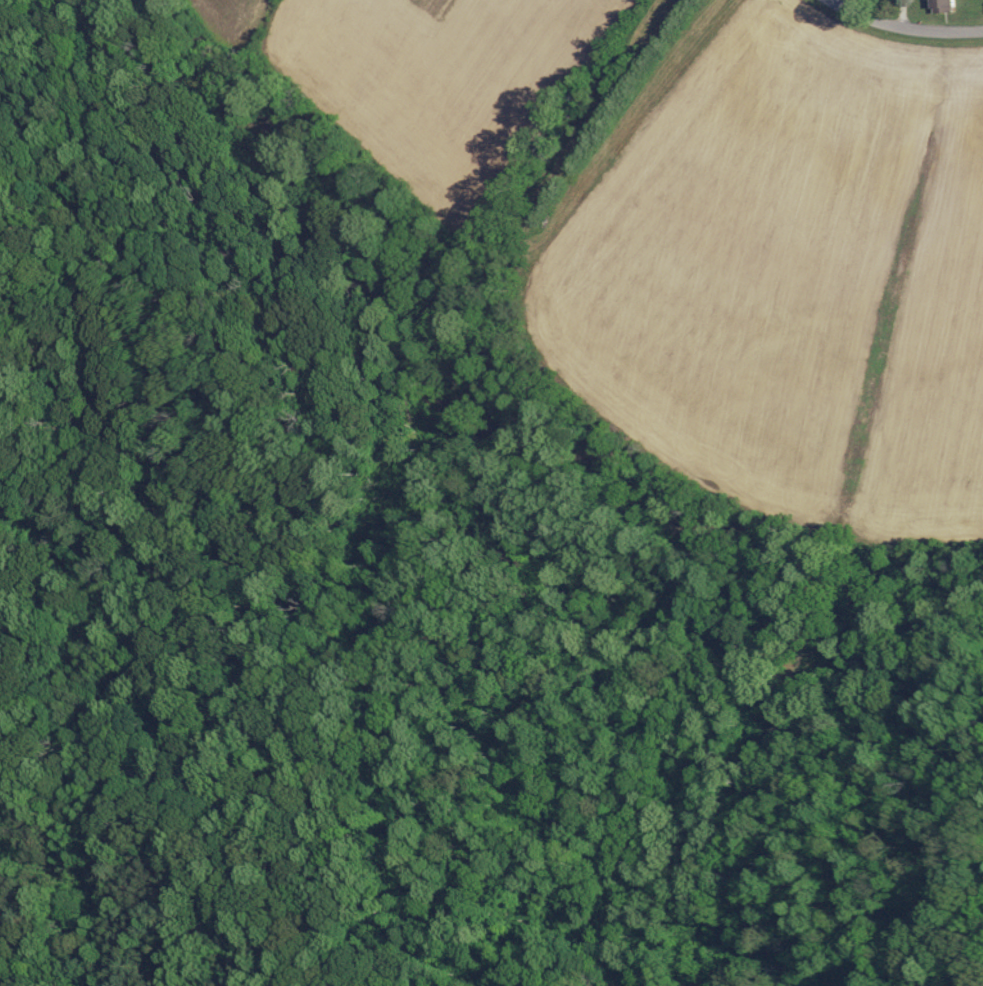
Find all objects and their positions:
building: (935, 6)
road: (904, 26)

